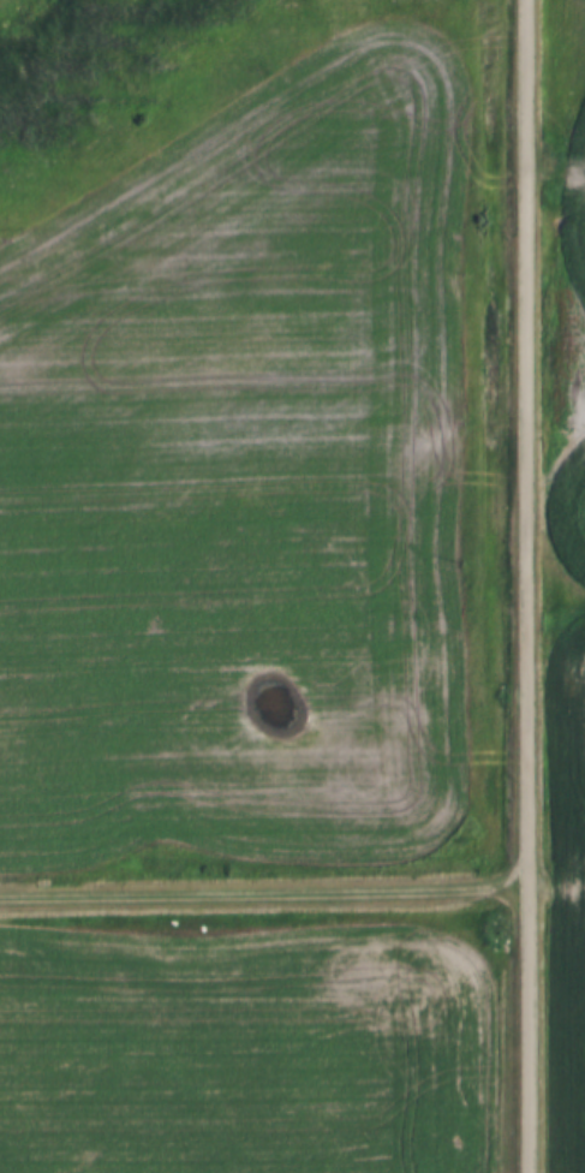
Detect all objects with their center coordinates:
road: (523, 585)
road: (262, 892)

